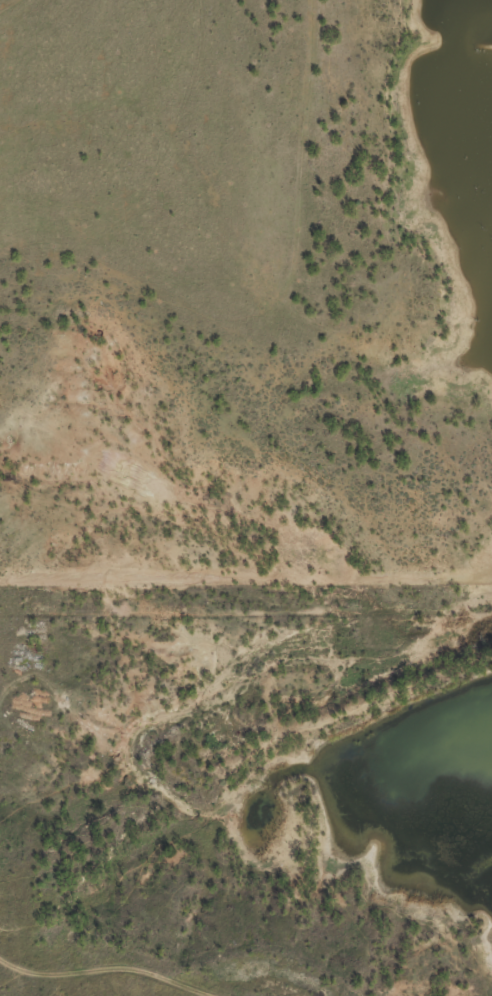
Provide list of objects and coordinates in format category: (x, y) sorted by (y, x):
dam: (349, 712)

